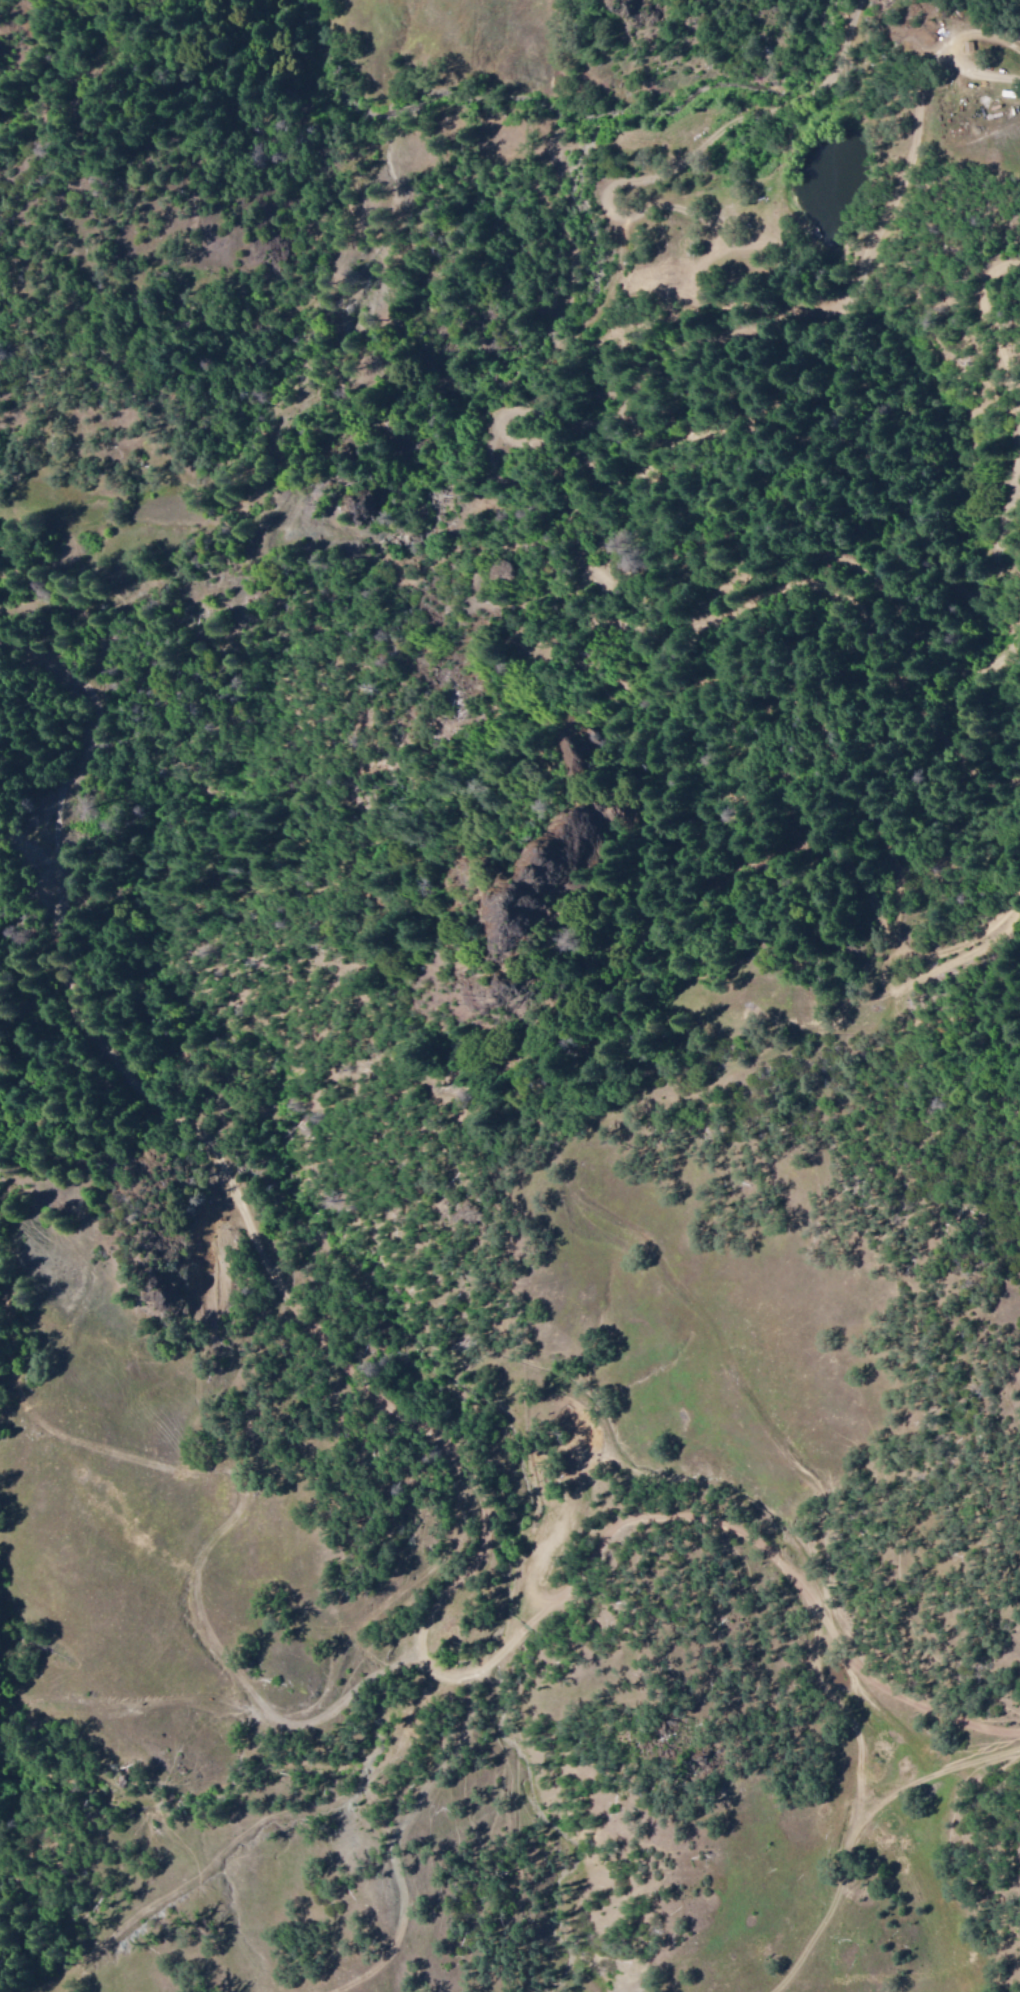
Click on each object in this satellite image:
road: (924, 120)
road: (704, 150)
road: (508, 413)
road: (467, 1489)
road: (858, 1827)

